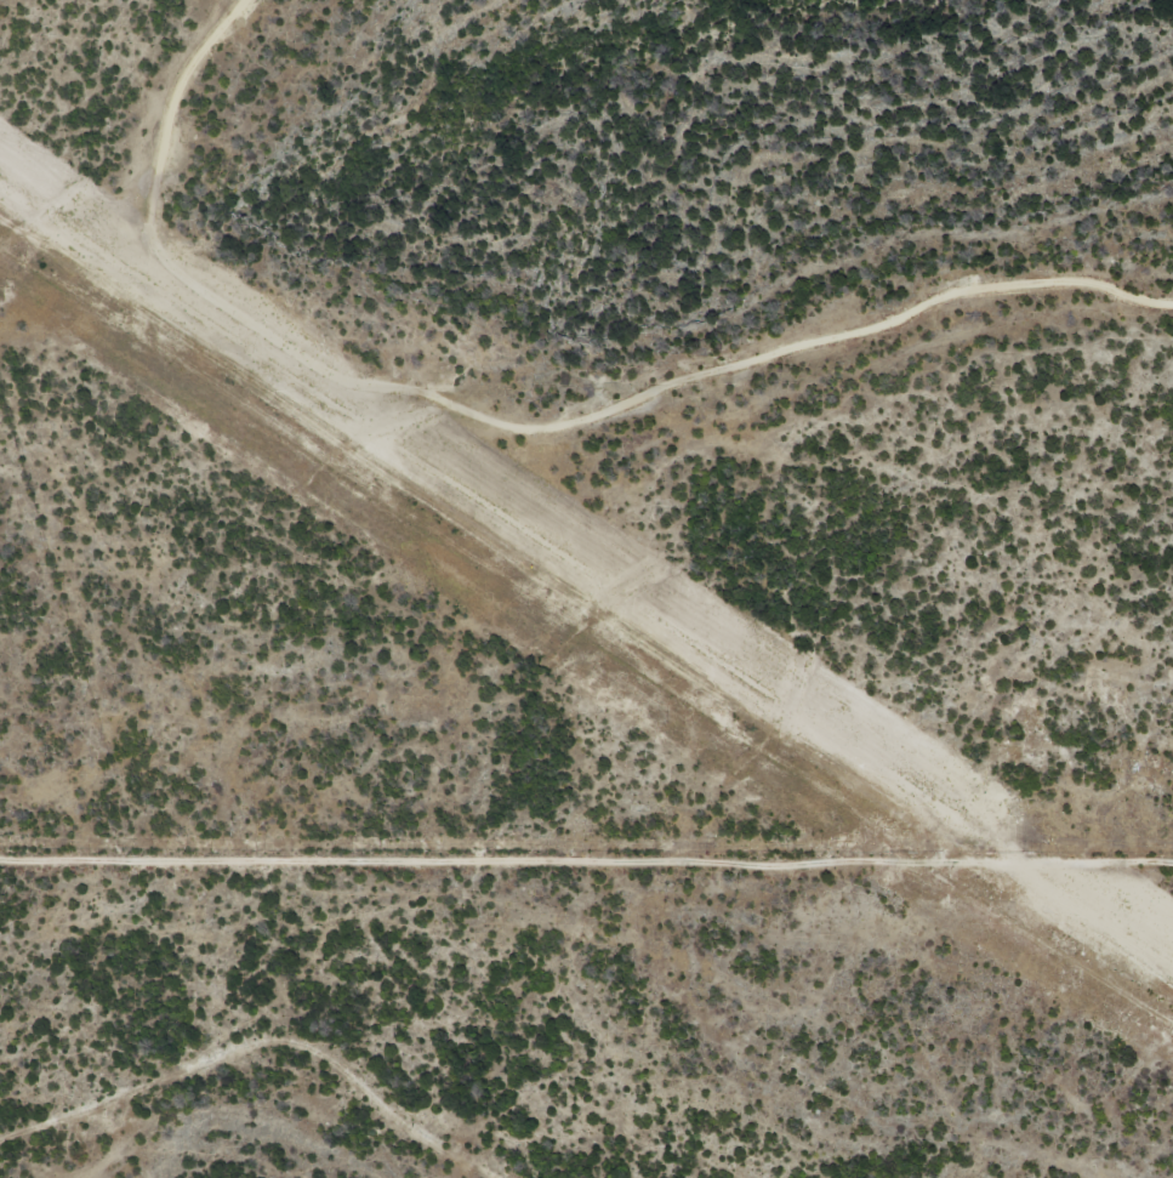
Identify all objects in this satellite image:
road: (261, 1042)

